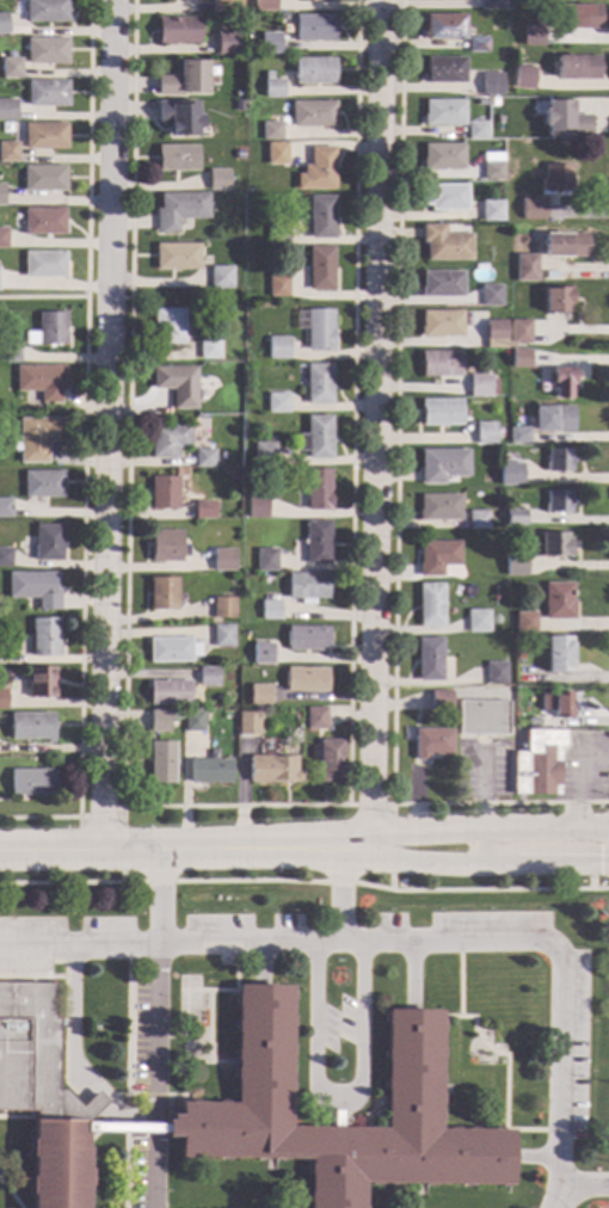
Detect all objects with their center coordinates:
building: (226, 5)
building: (264, 5)
building: (496, 5)
building: (47, 11)
building: (577, 17)
building: (287, 19)
building: (4, 24)
building: (314, 27)
building: (445, 27)
building: (178, 30)
building: (533, 35)
building: (227, 43)
building: (270, 43)
building: (478, 45)
building: (45, 50)
building: (11, 68)
building: (578, 68)
building: (314, 70)
building: (445, 70)
building: (524, 78)
building: (184, 79)
building: (493, 84)
building: (273, 88)
building: (47, 93)
building: (238, 93)
building: (494, 101)
building: (239, 105)
building: (7, 110)
building: (444, 113)
building: (314, 115)
building: (178, 116)
building: (565, 119)
building: (478, 130)
building: (271, 131)
building: (44, 136)
building: (8, 153)
building: (277, 153)
building: (444, 156)
building: (177, 159)
building: (318, 170)
building: (493, 171)
building: (556, 178)
building: (43, 179)
building: (232, 179)
building: (217, 180)
building: (1, 196)
building: (447, 197)
building: (533, 209)
building: (179, 210)
building: (492, 210)
building: (321, 217)
building: (43, 222)
building: (277, 235)
building: (2, 239)
building: (445, 244)
building: (565, 246)
building: (177, 257)
building: (44, 265)
building: (525, 267)
building: (320, 269)
building: (221, 277)
building: (443, 284)
building: (277, 286)
building: (492, 296)
road: (42, 297)
building: (558, 300)
building: (442, 323)
building: (170, 327)
building: (48, 329)
building: (319, 331)
building: (496, 334)
building: (519, 334)
building: (208, 349)
building: (277, 350)
building: (8, 353)
building: (521, 359)
building: (442, 363)
building: (41, 382)
building: (561, 382)
building: (318, 383)
building: (177, 386)
building: (481, 386)
building: (276, 403)
building: (441, 412)
building: (553, 419)
road: (375, 423)
road: (107, 424)
building: (486, 434)
building: (519, 436)
building: (315, 437)
building: (36, 438)
building: (168, 439)
road: (82, 446)
building: (263, 454)
building: (203, 458)
building: (559, 460)
building: (442, 466)
building: (510, 474)
building: (43, 485)
building: (316, 489)
building: (164, 493)
building: (558, 501)
building: (5, 507)
building: (257, 507)
building: (439, 507)
building: (203, 510)
road: (394, 512)
building: (515, 518)
building: (478, 520)
building: (47, 542)
building: (316, 542)
building: (554, 544)
building: (165, 547)
building: (5, 557)
building: (437, 557)
building: (222, 560)
building: (265, 560)
building: (515, 563)
building: (307, 587)
building: (35, 588)
building: (162, 594)
building: (559, 600)
building: (430, 605)
building: (222, 608)
building: (269, 609)
building: (476, 621)
building: (524, 623)
building: (222, 636)
building: (44, 637)
building: (307, 639)
building: (172, 651)
building: (262, 654)
building: (558, 654)
building: (429, 659)
building: (496, 673)
building: (207, 677)
building: (304, 680)
building: (41, 683)
building: (168, 694)
building: (258, 696)
building: (4, 699)
building: (441, 701)
building: (562, 705)
building: (315, 719)
building: (481, 719)
building: (161, 720)
building: (193, 721)
building: (537, 722)
building: (248, 723)
building: (527, 725)
building: (31, 727)
building: (5, 732)
building: (431, 742)
building: (330, 762)
building: (161, 763)
building: (537, 763)
building: (272, 770)
building: (209, 771)
road: (579, 778)
building: (32, 782)
road: (233, 806)
road: (481, 808)
road: (122, 812)
road: (390, 826)
road: (122, 827)
road: (487, 830)
road: (184, 846)
road: (487, 864)
traffic signals: (598, 864)
road: (304, 881)
road: (339, 894)
road: (478, 941)
road: (78, 945)
building: (221, 960)
road: (48, 961)
road: (259, 964)
road: (411, 976)
road: (32, 978)
road: (457, 979)
road: (156, 981)
road: (195, 990)
road: (73, 1023)
road: (127, 1029)
road: (207, 1040)
road: (190, 1046)
building: (35, 1056)
road: (63, 1056)
road: (494, 1061)
road: (504, 1073)
road: (155, 1096)
road: (98, 1101)
road: (100, 1101)
road: (334, 1102)
building: (339, 1114)
road: (127, 1115)
road: (17, 1116)
road: (124, 1130)
road: (534, 1157)
road: (124, 1161)
road: (152, 1161)
building: (57, 1164)
road: (588, 1185)
road: (10, 1194)
road: (559, 1197)

